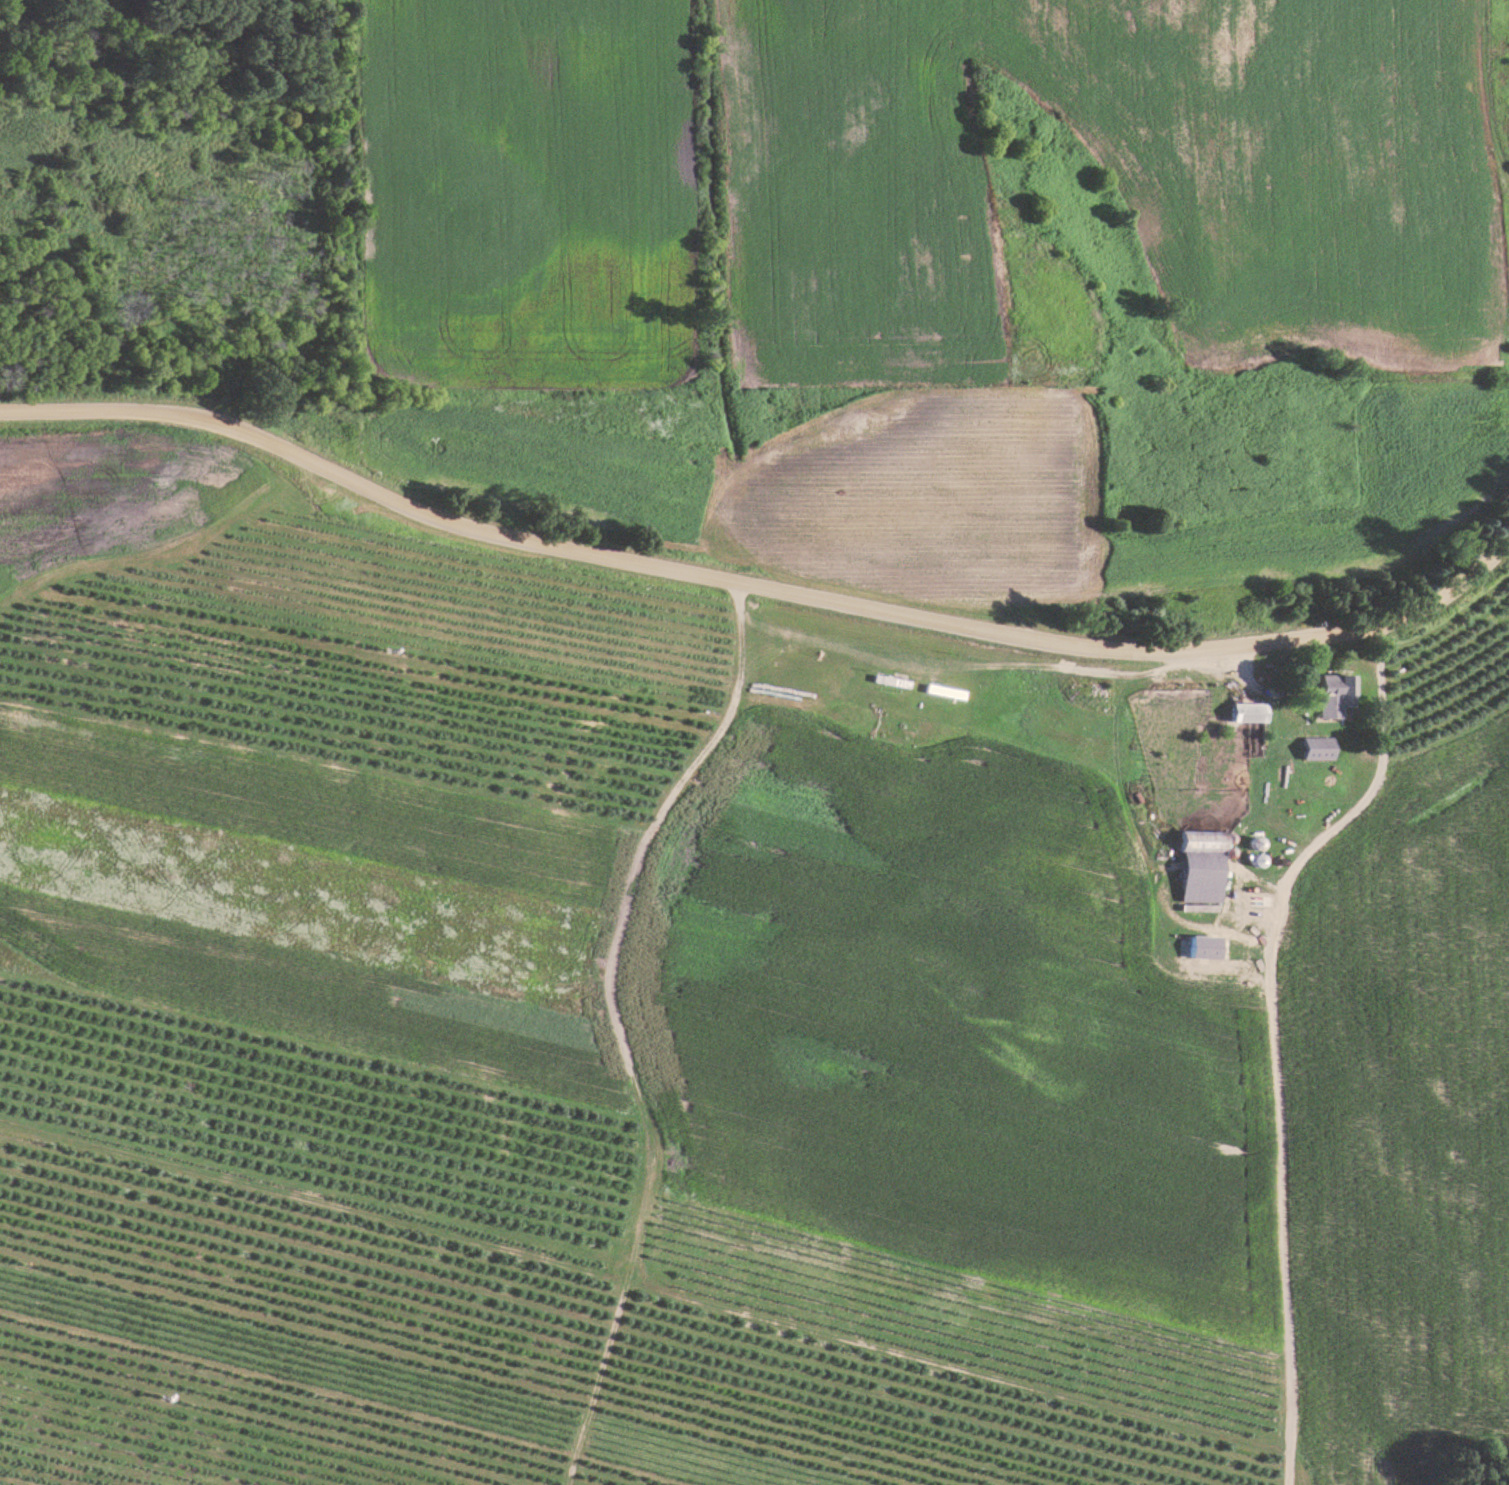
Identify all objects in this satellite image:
road: (757, 584)
building: (891, 681)
building: (944, 692)
building: (1338, 695)
building: (1250, 713)
building: (1320, 748)
road: (1370, 788)
building: (1203, 866)
building: (1205, 947)

